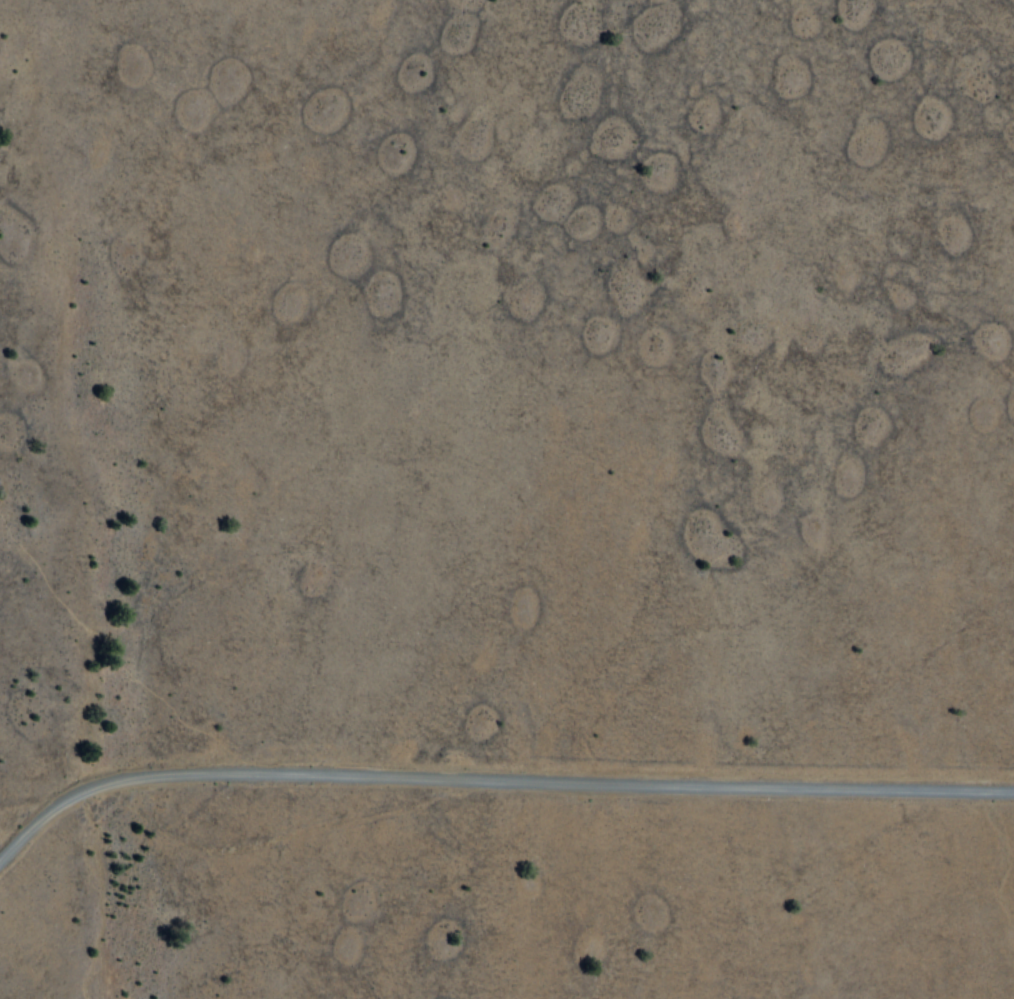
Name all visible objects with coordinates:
road: (492, 785)

